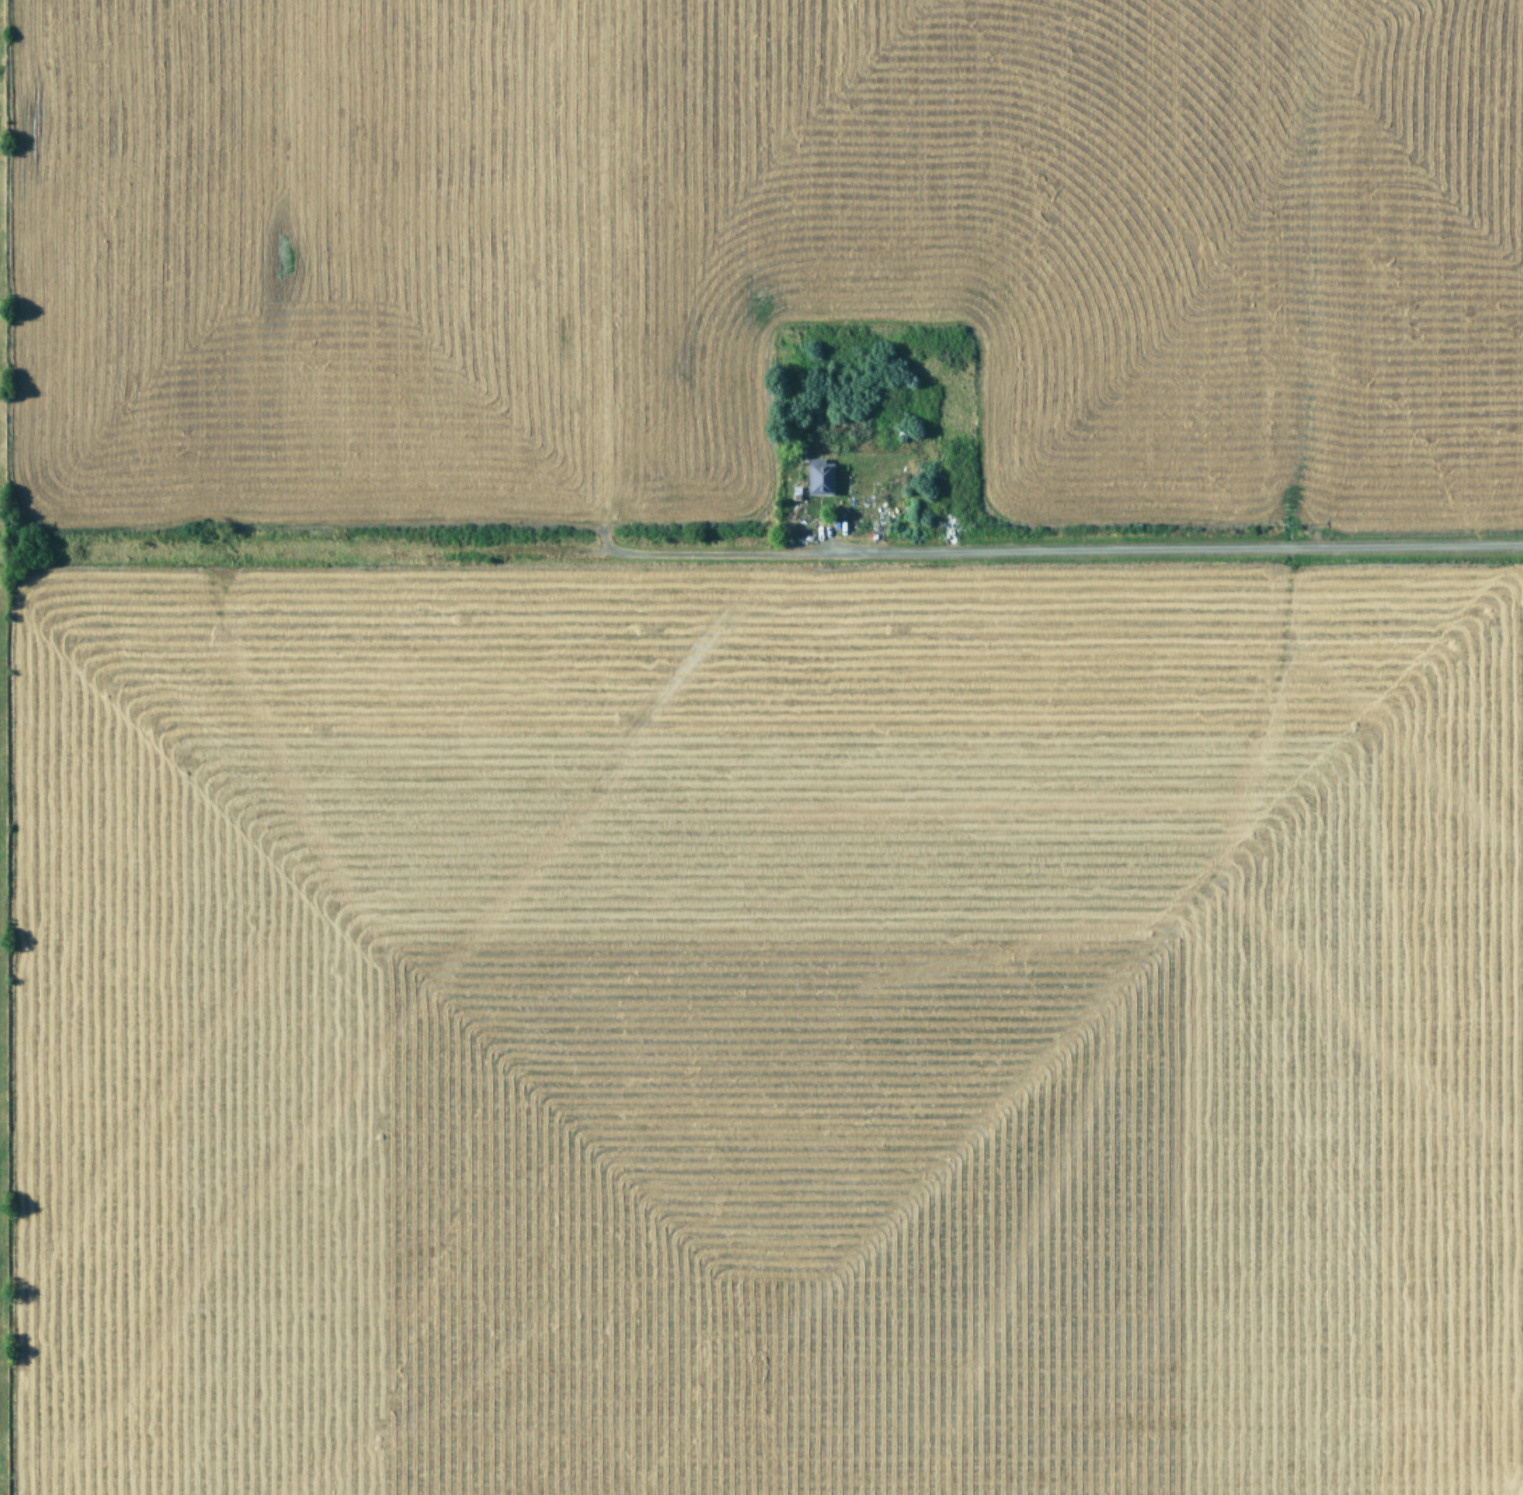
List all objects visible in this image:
road: (1170, 547)
crop: (778, 746)

